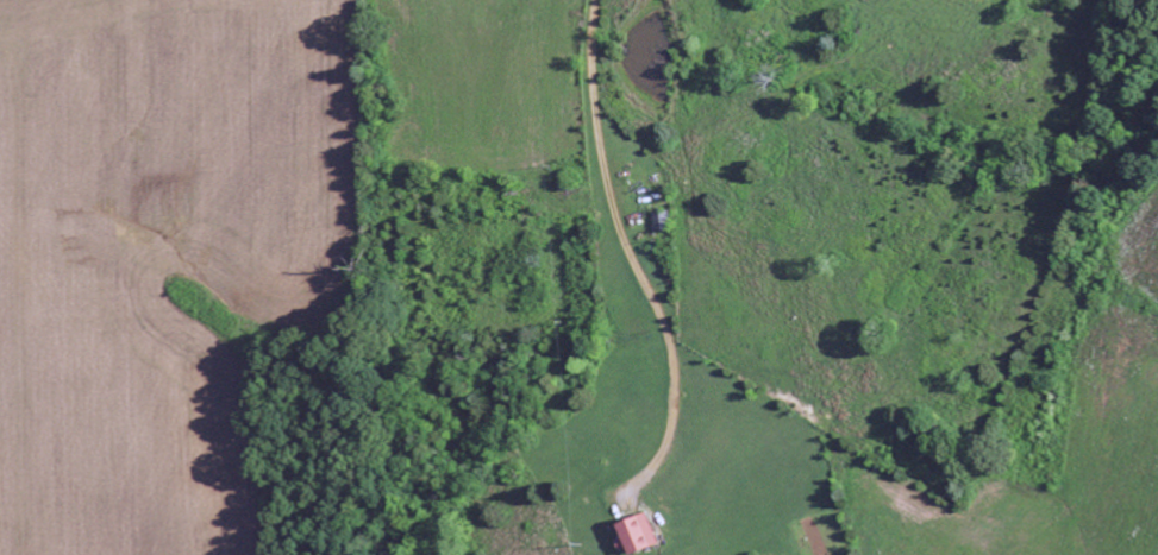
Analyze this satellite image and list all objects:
road: (731, 179)
building: (666, 221)
building: (645, 534)

